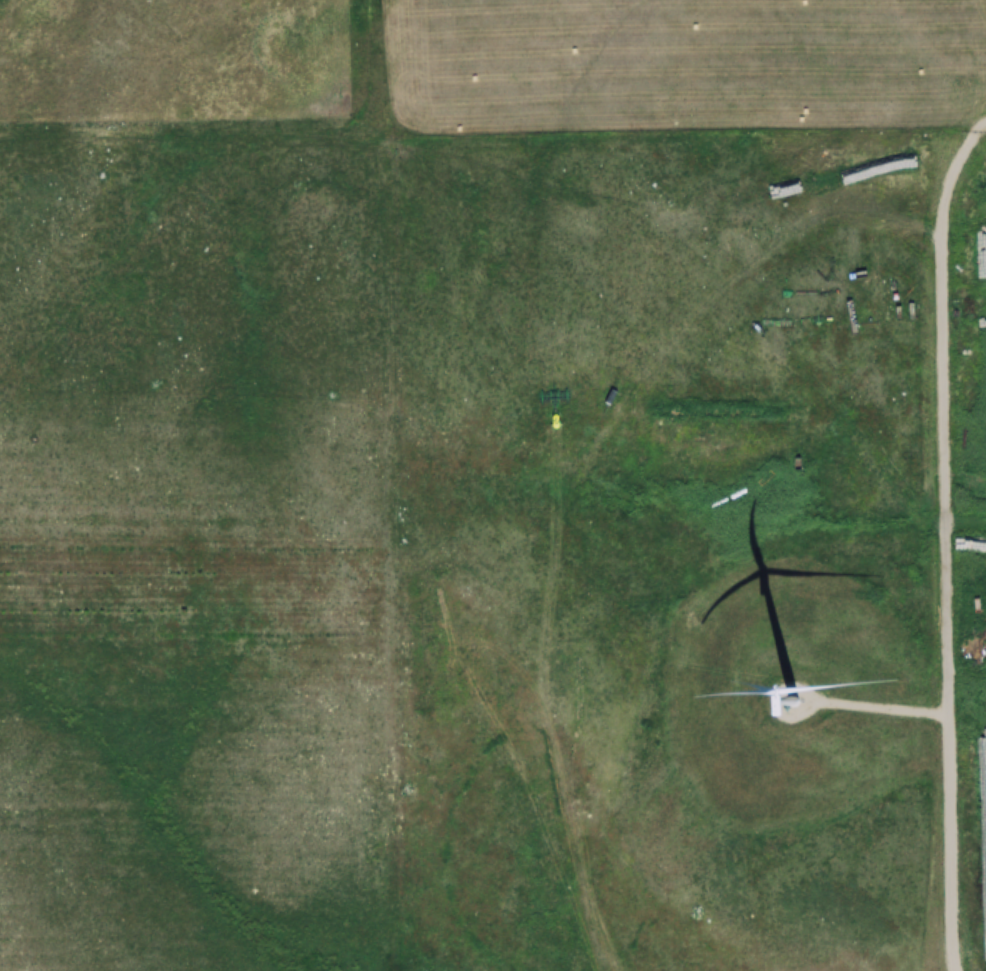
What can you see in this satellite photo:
road: (395, 55)
wind turbine: (792, 699)

